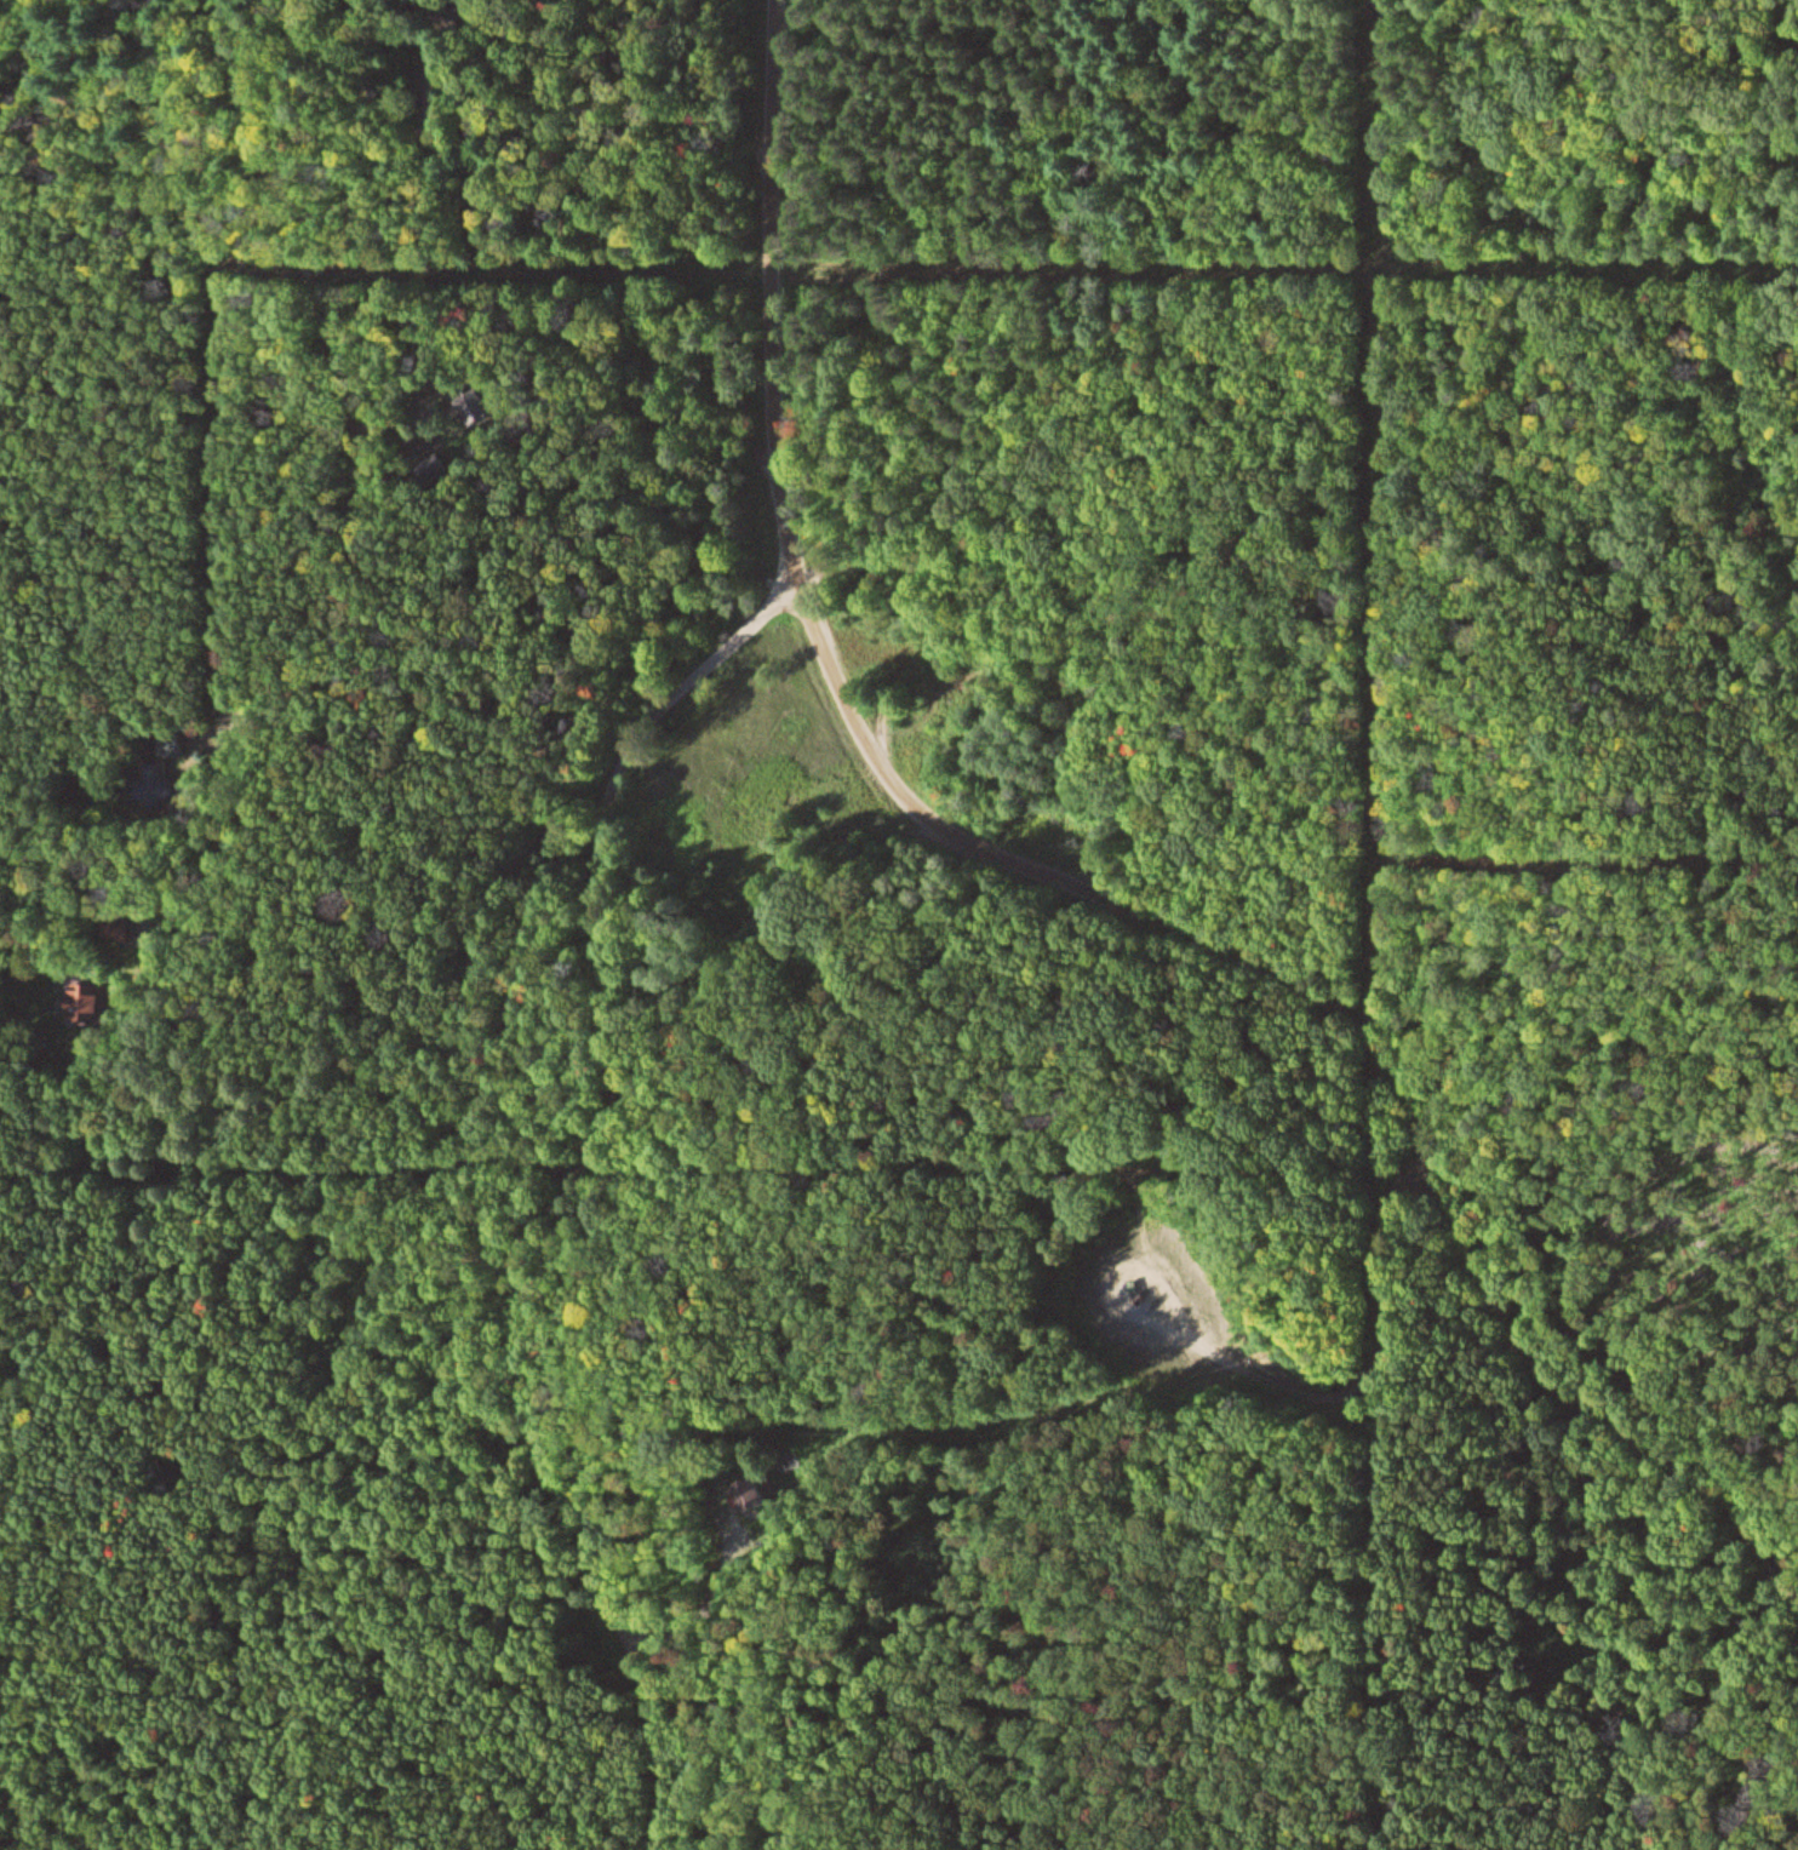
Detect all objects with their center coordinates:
road: (349, 322)
road: (1094, 887)
road: (577, 1193)
petroleum well: (1151, 1296)
road: (1272, 1384)
road: (1614, 1625)

